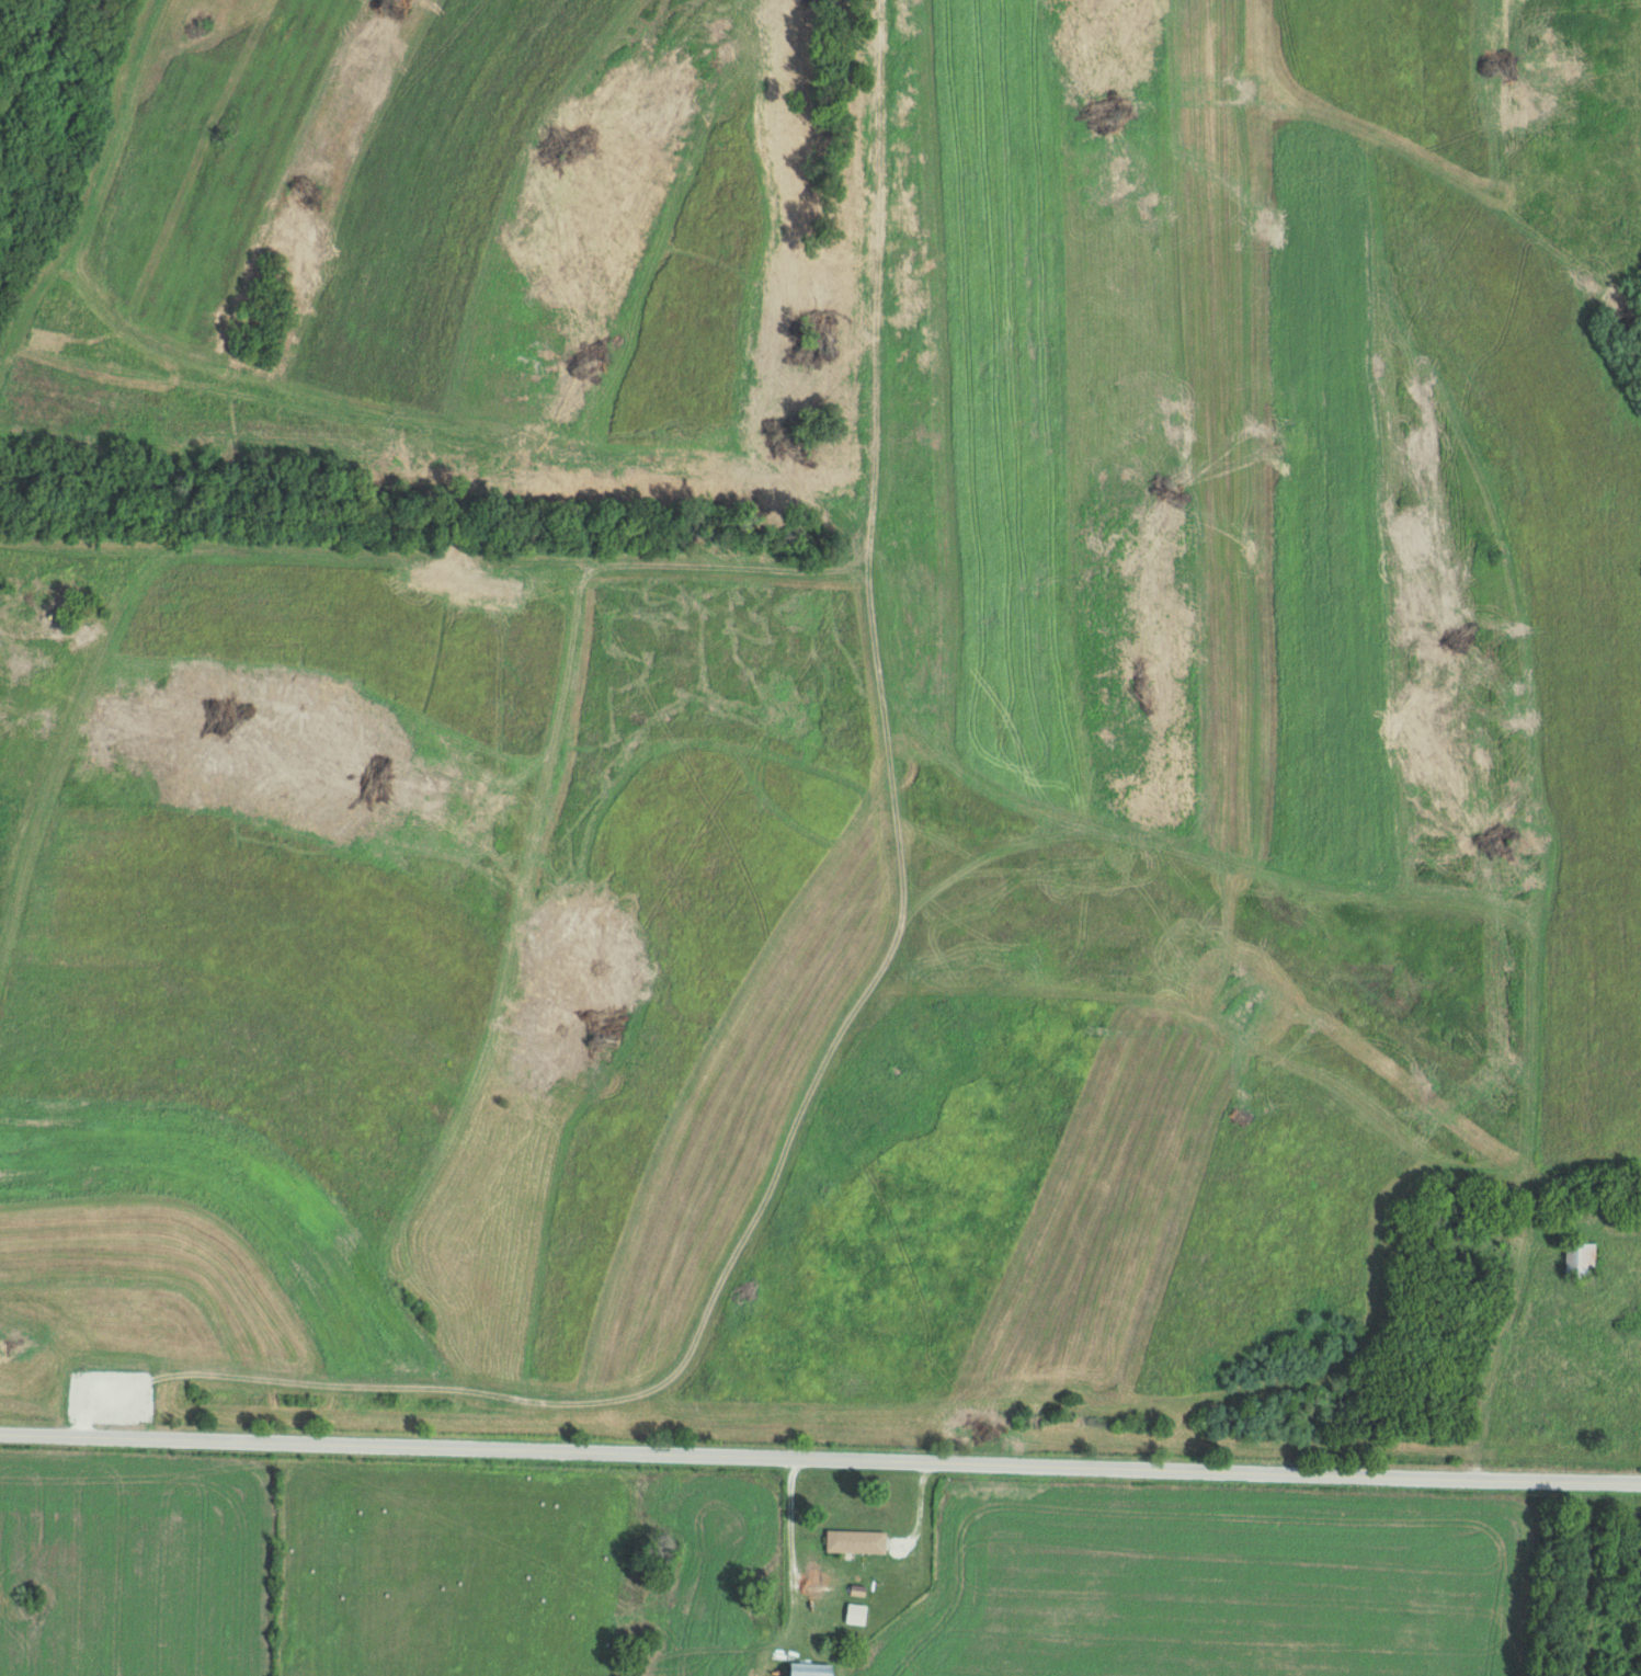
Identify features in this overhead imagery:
building: (1582, 1259)
road: (820, 1455)
building: (857, 1541)
building: (813, 1669)

